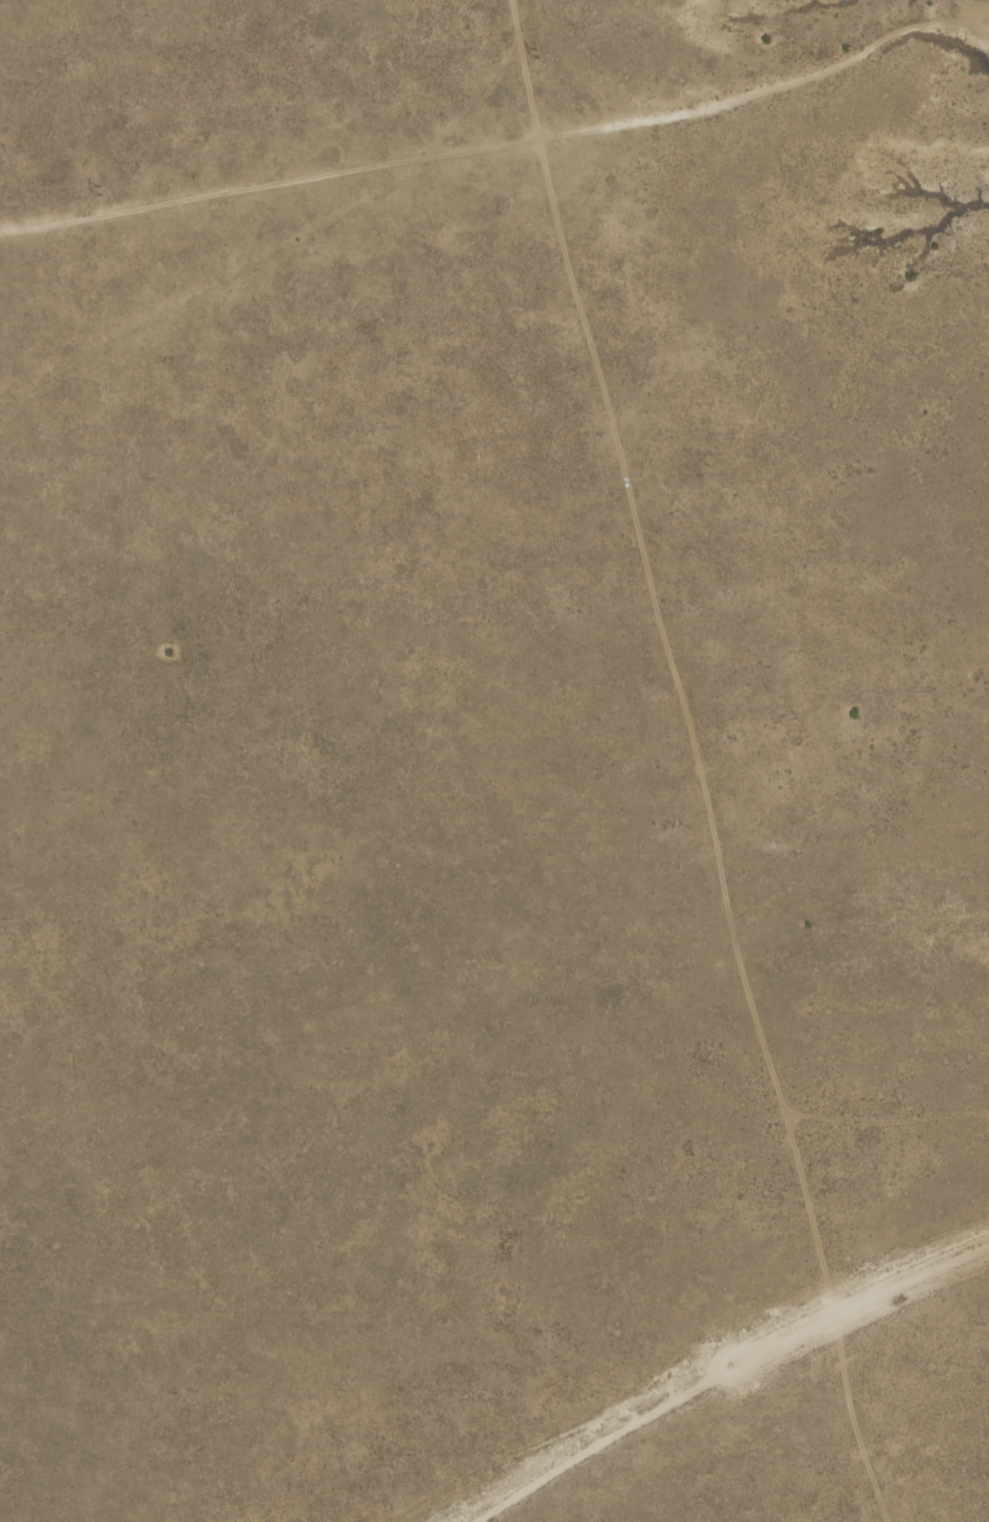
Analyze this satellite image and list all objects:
power tower: (537, 53)
power tower: (99, 190)
road: (720, 1368)

